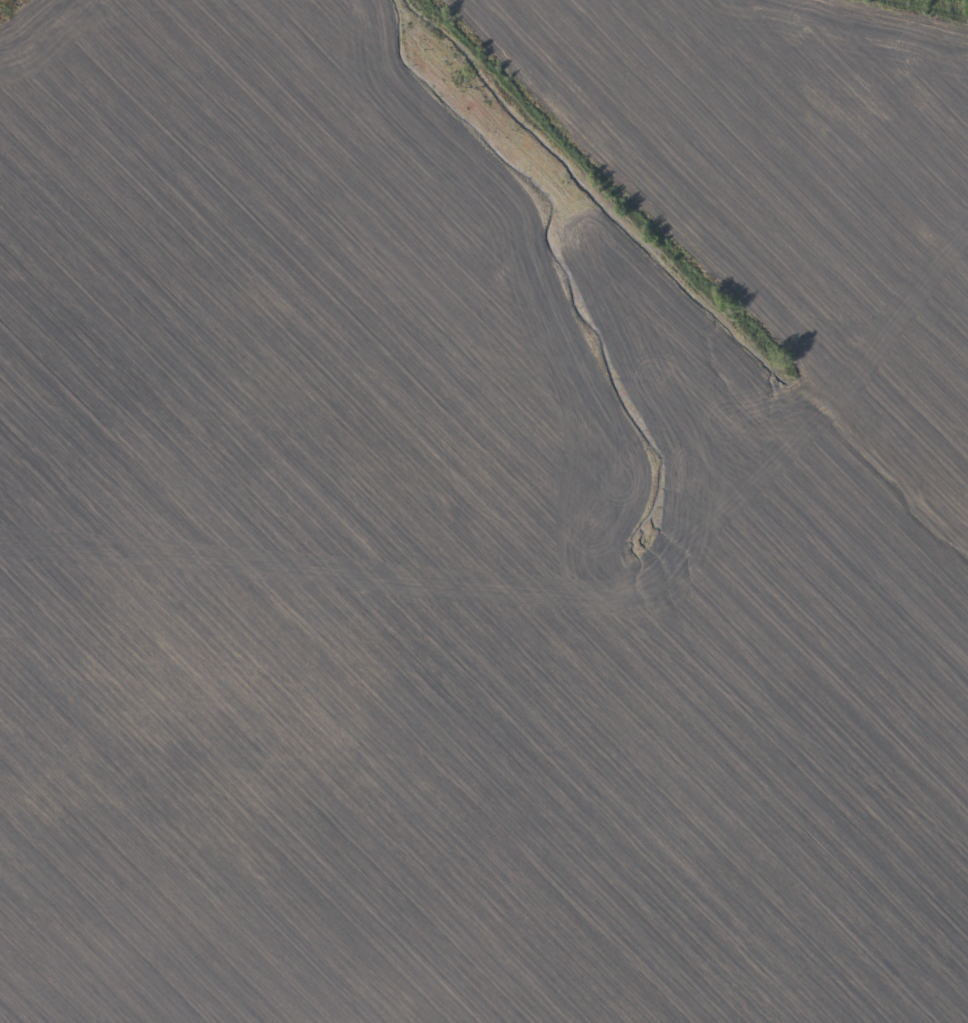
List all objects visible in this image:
building: (772, 872)

